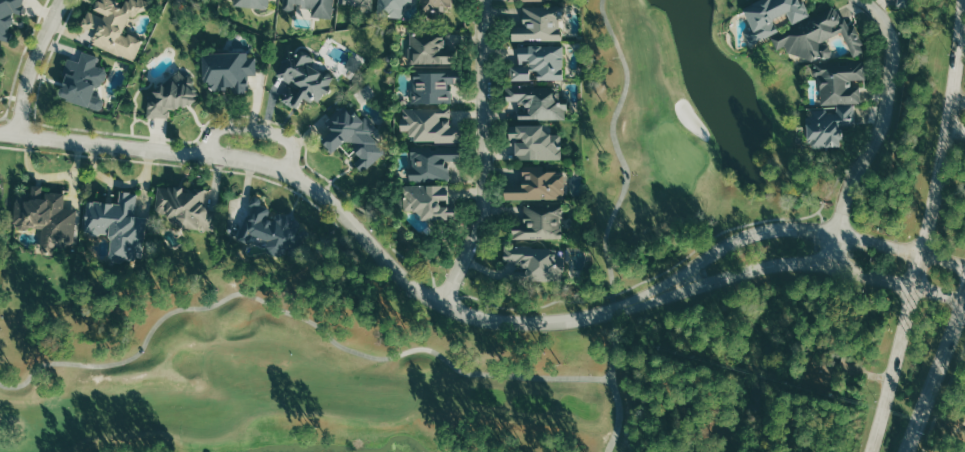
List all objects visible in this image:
building: (514, 0)
building: (357, 2)
building: (252, 5)
building: (436, 5)
building: (291, 6)
building: (324, 7)
building: (392, 7)
building: (10, 14)
building: (771, 16)
building: (117, 22)
building: (537, 23)
building: (821, 37)
building: (428, 48)
road: (20, 56)
building: (538, 62)
road: (33, 65)
road: (44, 68)
building: (227, 69)
building: (89, 77)
building: (299, 78)
building: (432, 86)
building: (167, 95)
road: (958, 100)
building: (94, 102)
building: (536, 102)
building: (844, 106)
road: (268, 120)
road: (9, 123)
building: (428, 124)
road: (254, 128)
road: (875, 131)
road: (955, 131)
road: (124, 133)
building: (353, 137)
building: (535, 143)
road: (618, 153)
road: (481, 156)
park: (676, 156)
building: (431, 163)
road: (176, 164)
building: (536, 185)
road: (833, 185)
building: (207, 198)
building: (426, 199)
road: (332, 202)
building: (184, 207)
building: (47, 216)
building: (539, 222)
building: (116, 224)
building: (268, 228)
road: (926, 228)
road: (791, 230)
park: (631, 249)
building: (531, 261)
road: (797, 264)
road: (963, 300)
road: (550, 302)
road: (295, 314)
road: (935, 372)
road: (610, 381)
road: (943, 400)
road: (952, 433)

